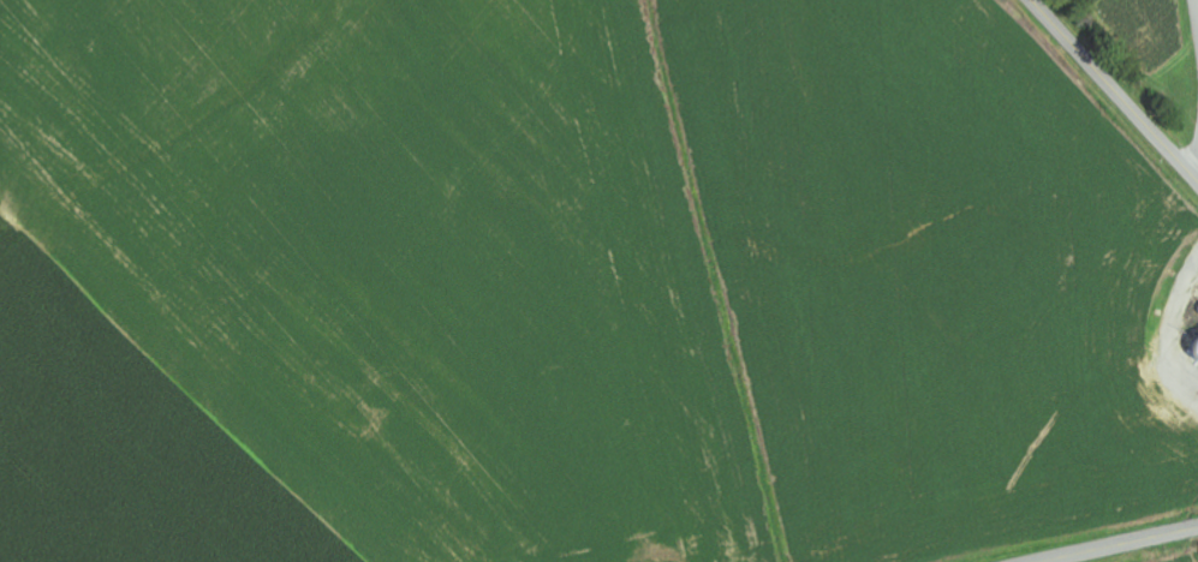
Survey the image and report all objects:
road: (1115, 89)
road: (1196, 166)
building: (1197, 349)
road: (1116, 544)

